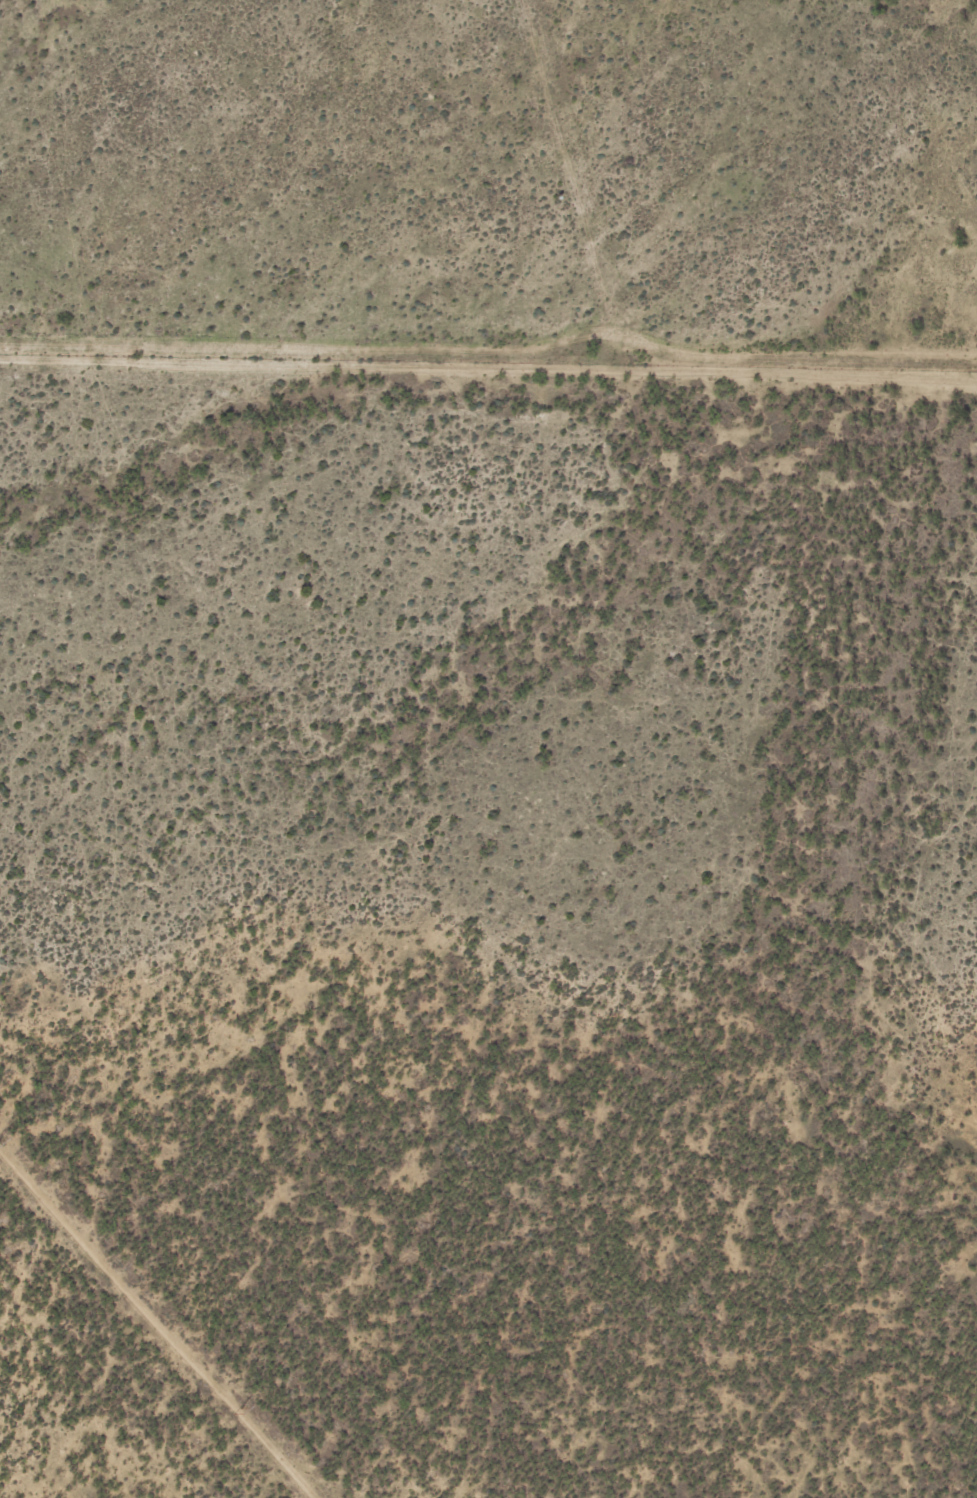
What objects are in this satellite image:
road: (571, 185)
road: (488, 368)
road: (160, 1321)
power tower: (234, 1411)

